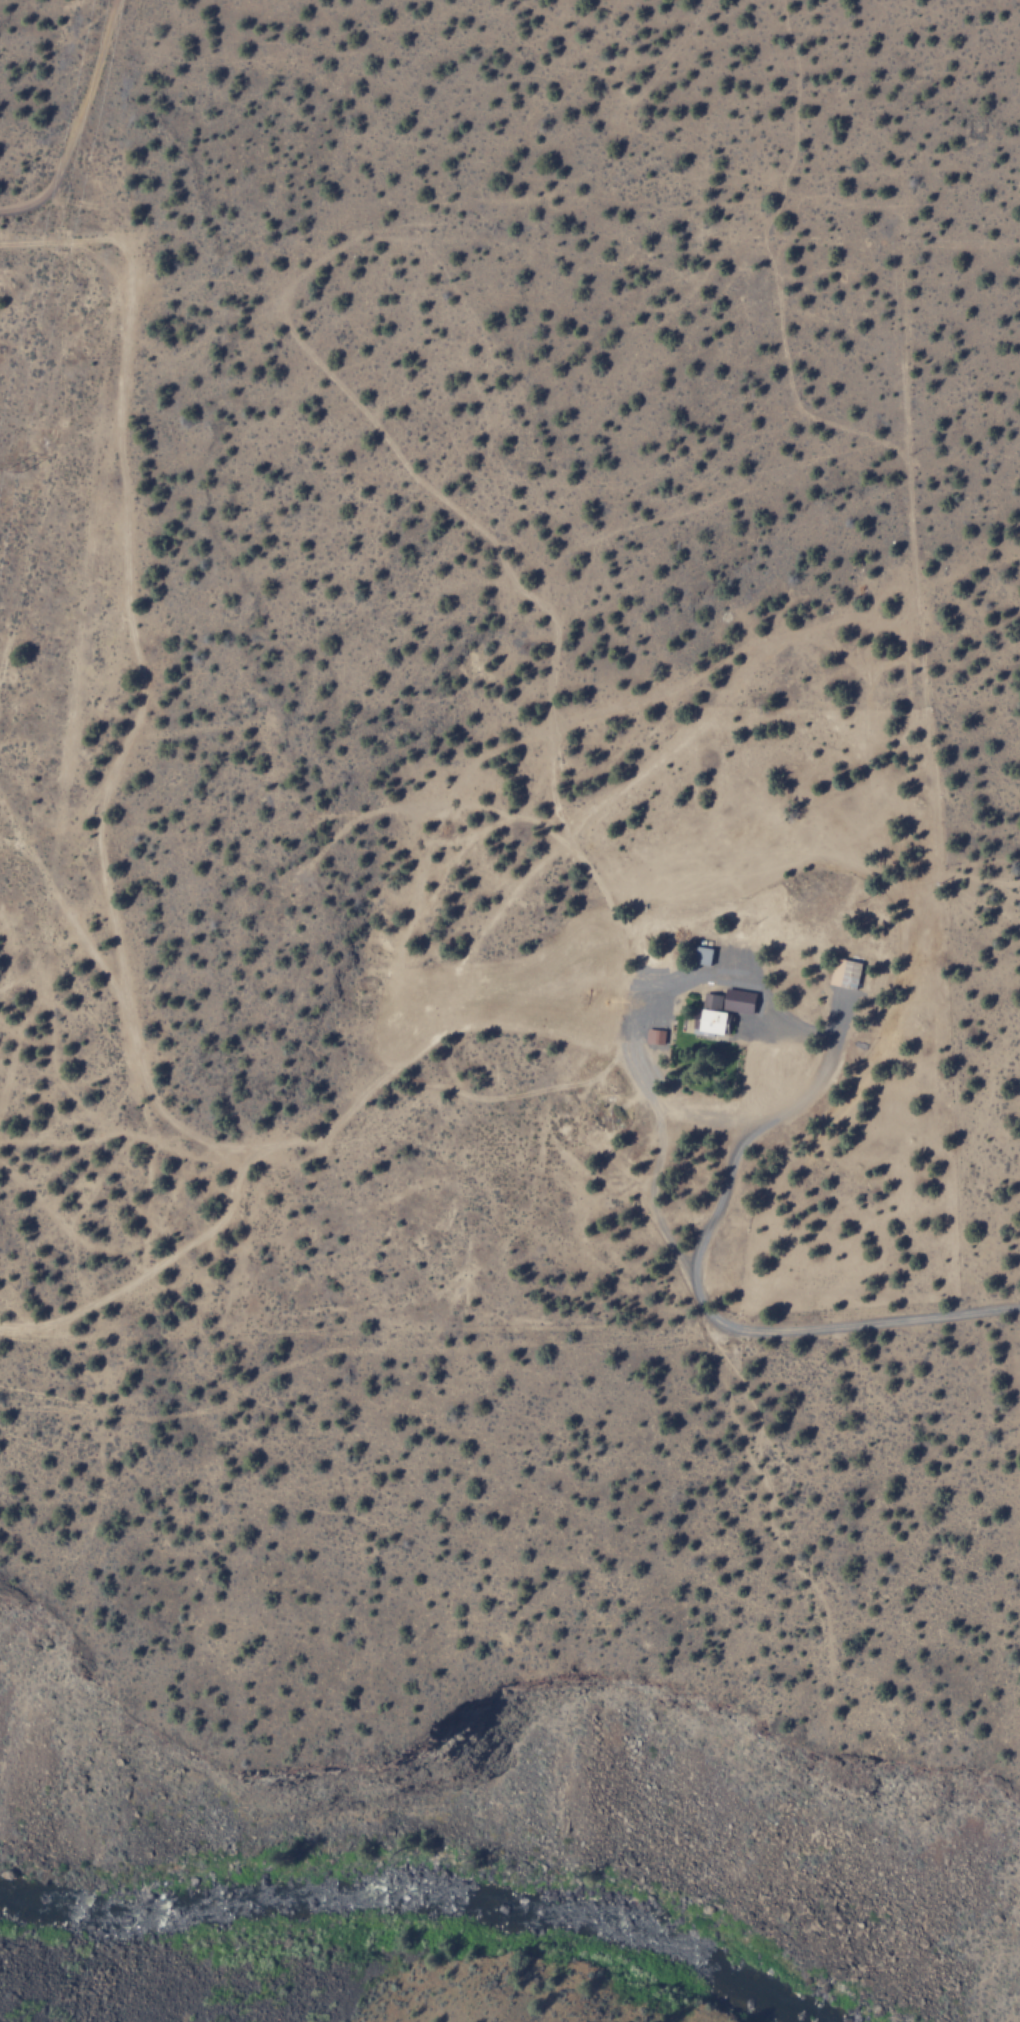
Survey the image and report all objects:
road: (75, 120)
power tower: (16, 469)
building: (842, 973)
building: (721, 1009)
road: (475, 1198)
river: (390, 1895)

